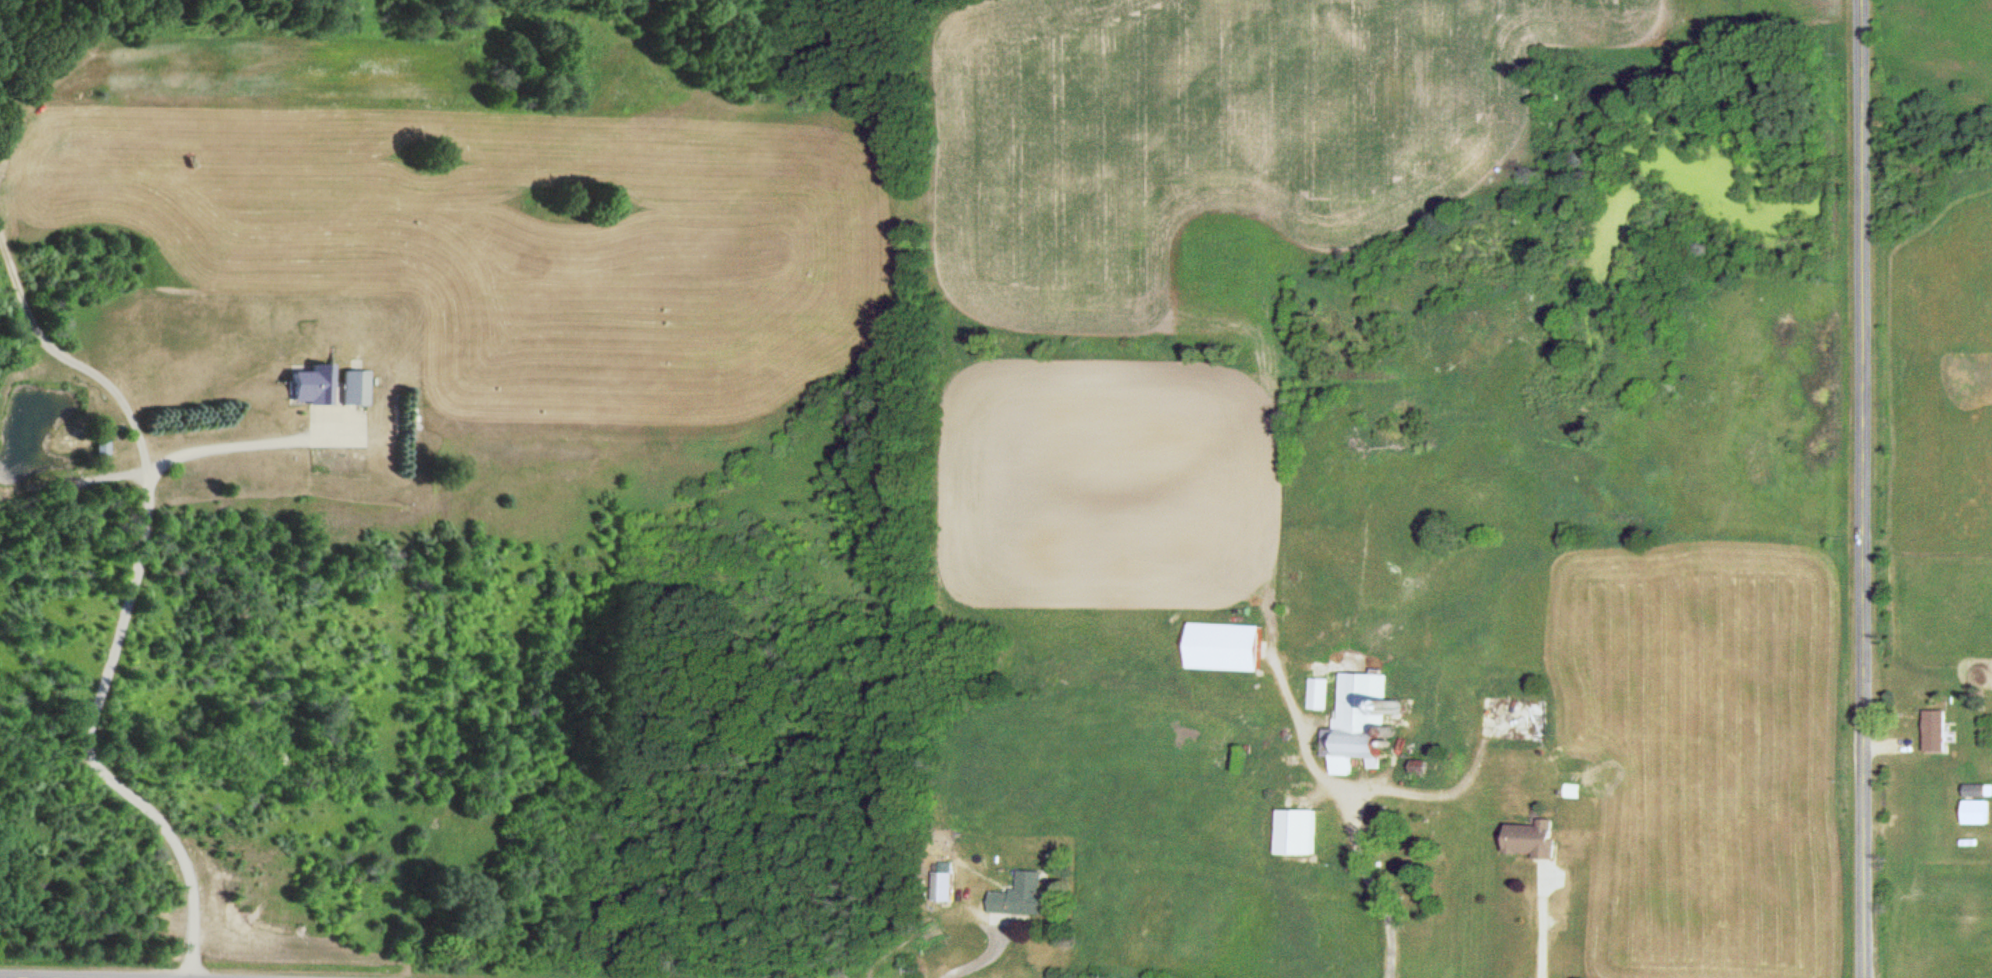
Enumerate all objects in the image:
building: (310, 386)
building: (352, 388)
building: (97, 449)
road: (1863, 489)
building: (1542, 598)
building: (1224, 646)
building: (1319, 693)
building: (1358, 722)
building: (1934, 730)
building: (1977, 812)
building: (1295, 831)
building: (1531, 838)
building: (1022, 896)
road: (2, 977)

